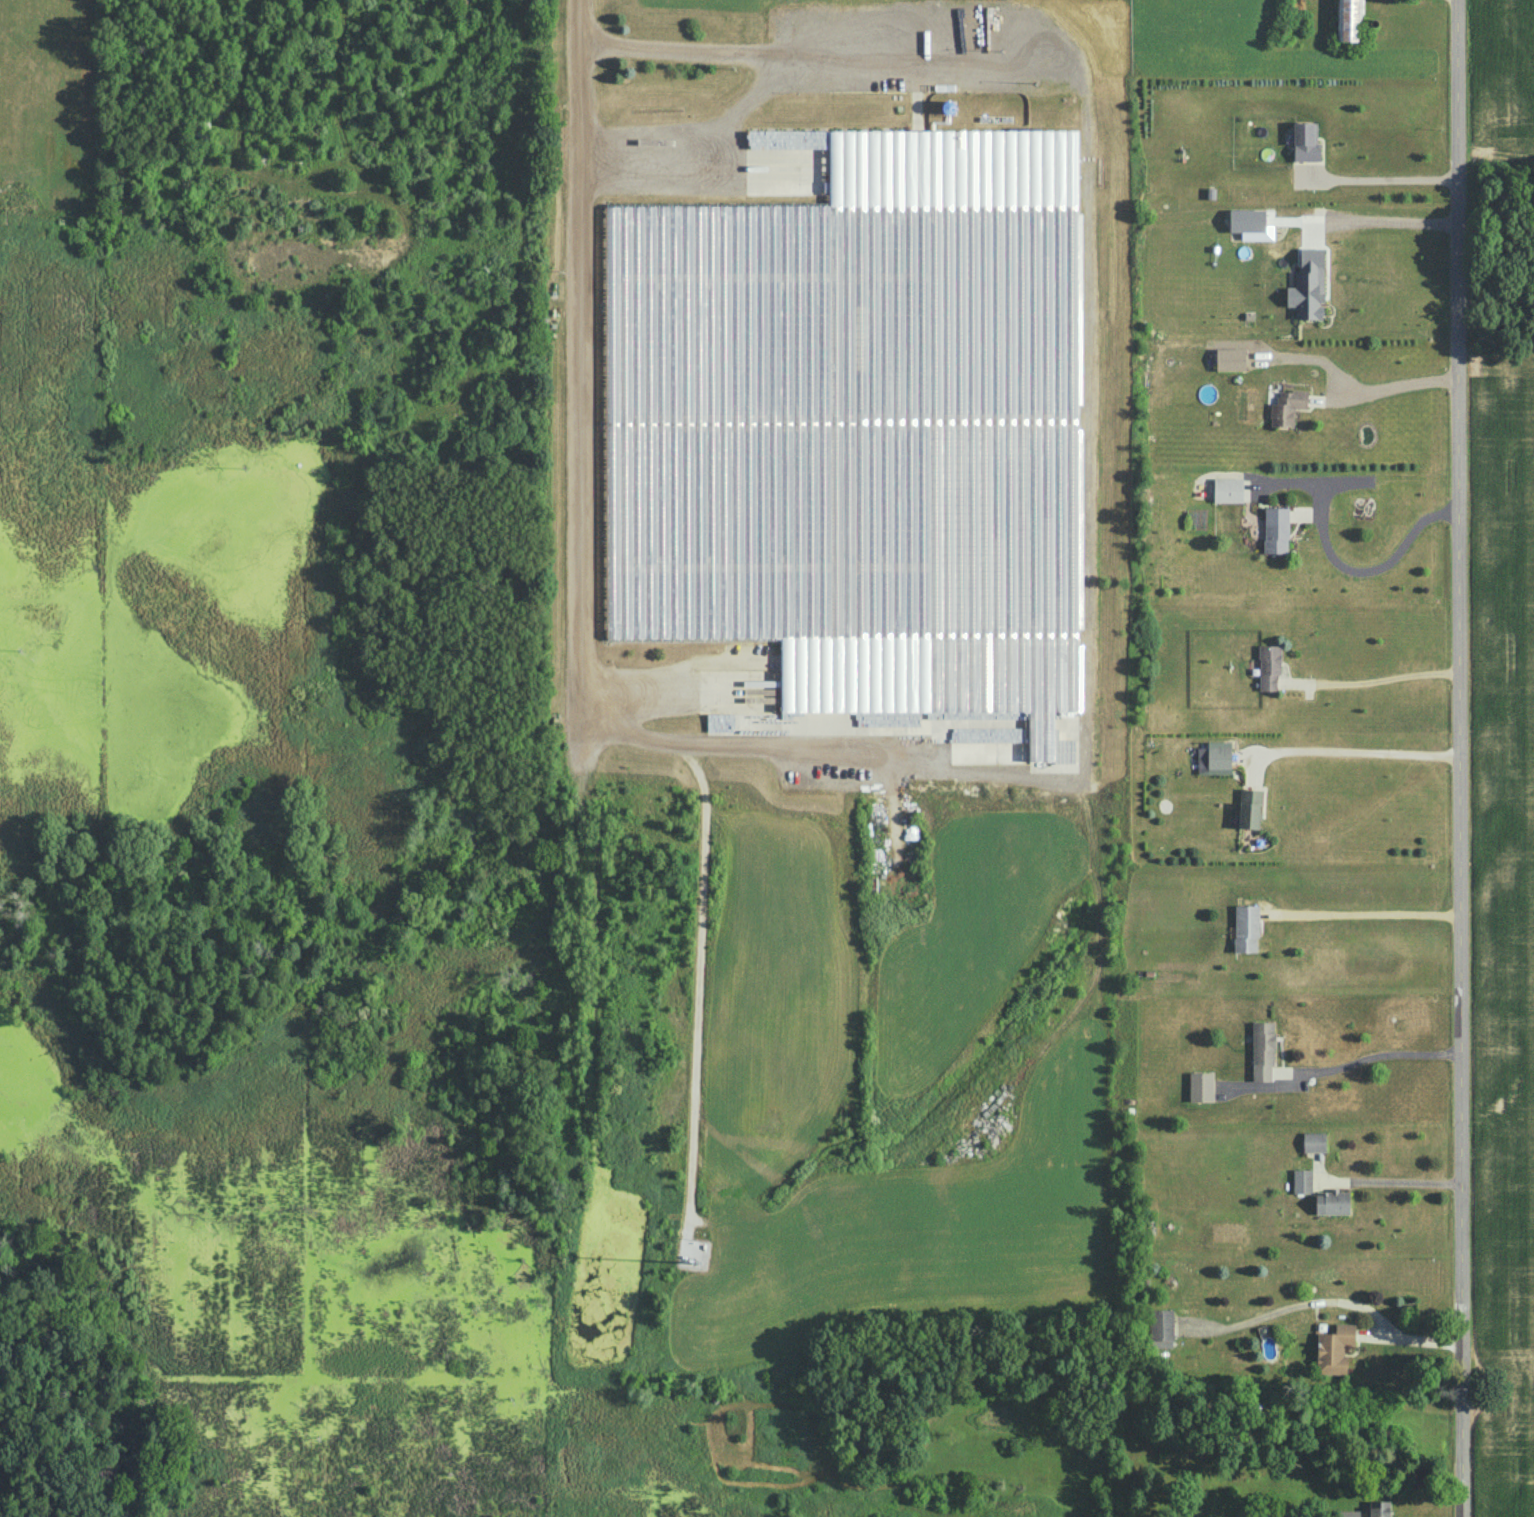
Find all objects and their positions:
building: (1348, 20)
road: (807, 55)
building: (1305, 141)
road: (705, 158)
road: (1379, 178)
building: (939, 192)
road: (1391, 220)
building: (1308, 285)
building: (1230, 359)
road: (576, 378)
road: (1398, 384)
building: (1287, 407)
building: (1227, 490)
building: (1275, 529)
road: (1378, 565)
road: (1088, 652)
building: (1268, 667)
road: (1377, 678)
road: (654, 684)
road: (1356, 750)
building: (967, 752)
building: (1213, 757)
road: (1456, 758)
building: (1249, 808)
road: (1361, 911)
building: (1245, 928)
building: (1262, 1051)
road: (1375, 1053)
building: (1201, 1086)
building: (1313, 1141)
building: (1302, 1181)
road: (1388, 1181)
building: (1331, 1202)
road: (1342, 1299)
building: (1160, 1328)
building: (1334, 1348)
building: (1378, 1508)

